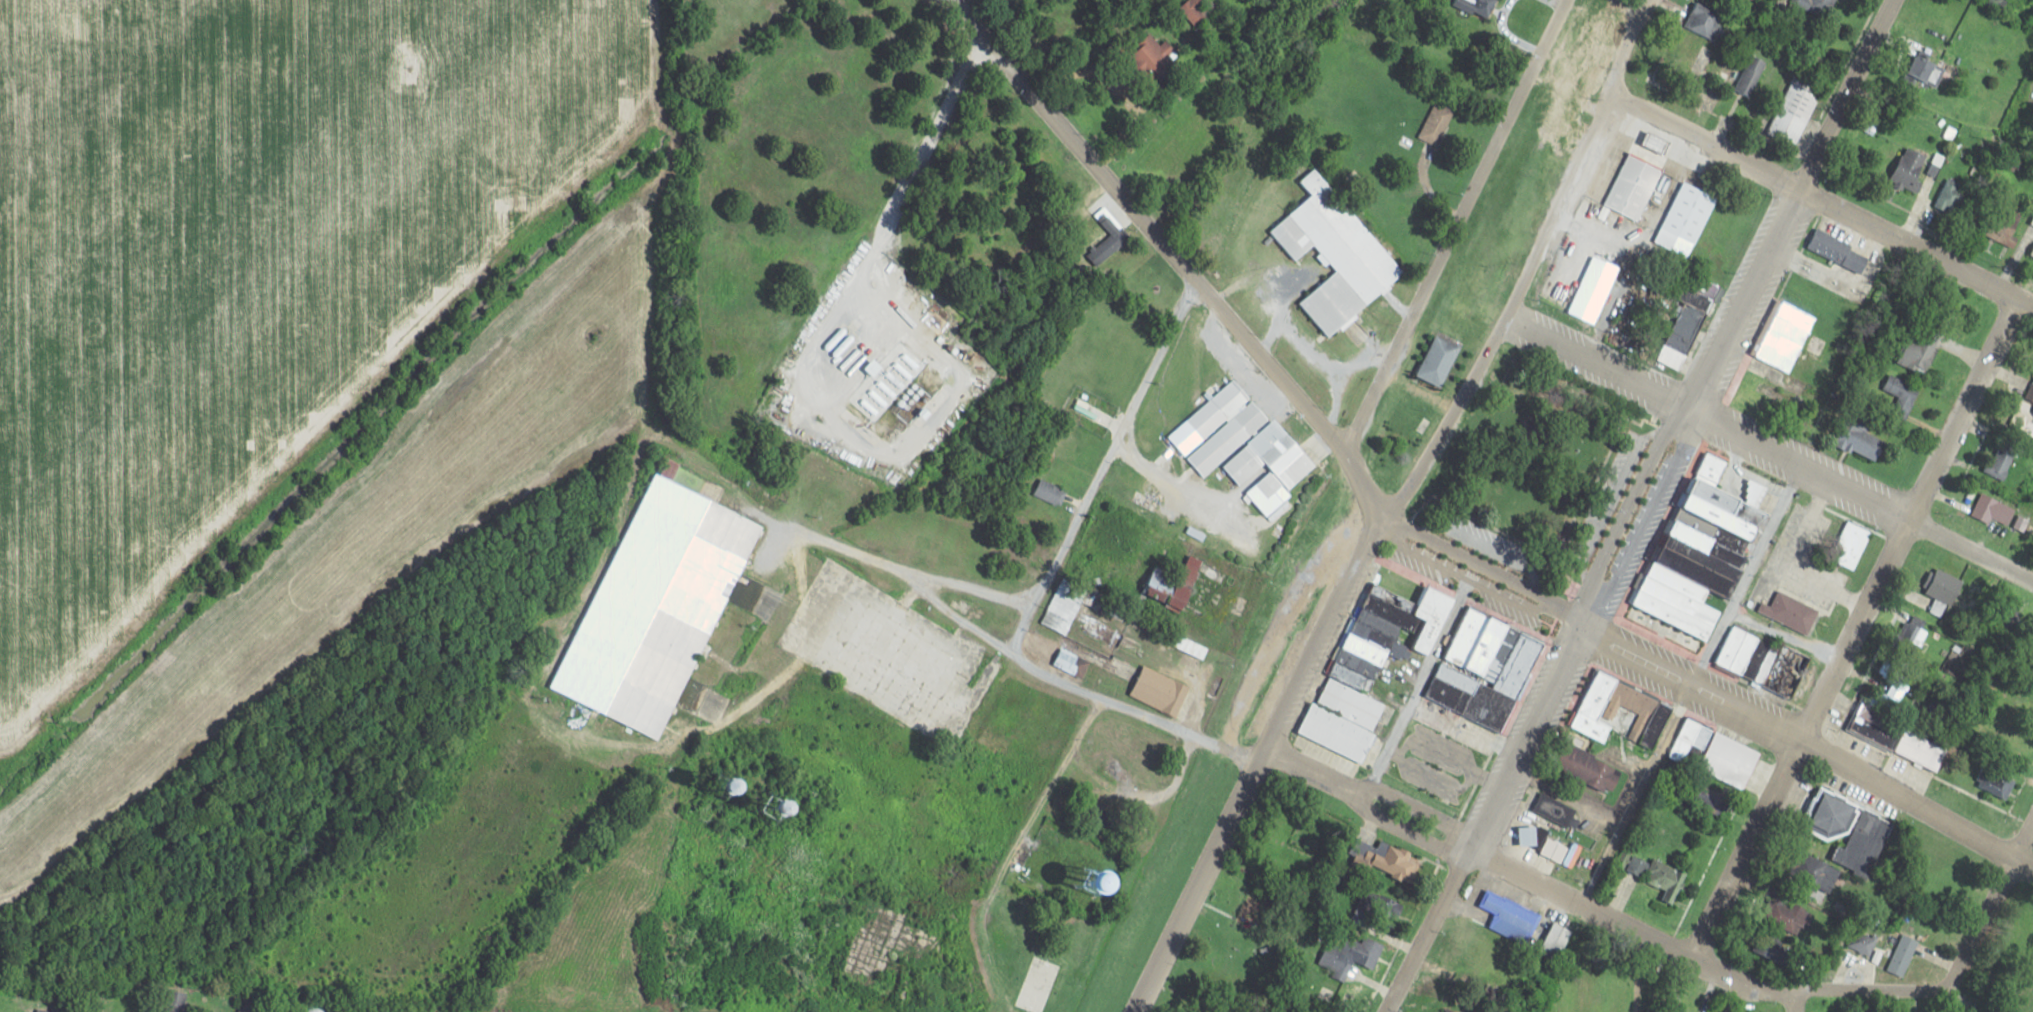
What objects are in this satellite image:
building: (1995, 2)
building: (1819, 6)
building: (1193, 9)
building: (1927, 70)
building: (1749, 74)
building: (1794, 109)
building: (1436, 122)
building: (1407, 141)
road: (1702, 142)
road: (920, 154)
building: (1910, 168)
building: (1933, 170)
building: (1633, 187)
building: (1951, 198)
building: (1688, 213)
road: (1453, 225)
building: (2002, 232)
building: (1107, 241)
road: (1913, 248)
building: (1839, 251)
building: (1335, 256)
road: (1530, 266)
road: (1733, 313)
building: (1684, 330)
building: (1785, 336)
road: (1243, 340)
road: (1296, 346)
building: (1919, 350)
road: (1345, 381)
building: (1897, 396)
building: (1749, 397)
building: (2027, 419)
building: (1861, 438)
road: (1112, 441)
building: (1241, 441)
road: (1769, 448)
building: (2002, 459)
building: (1049, 491)
building: (1992, 510)
road: (1911, 521)
road: (776, 533)
building: (1851, 545)
building: (1698, 566)
road: (912, 572)
building: (1175, 584)
building: (1943, 592)
building: (663, 599)
road: (958, 610)
building: (1790, 612)
building: (1059, 613)
building: (1910, 636)
building: (1761, 661)
building: (1071, 663)
building: (1373, 663)
building: (1484, 670)
building: (1888, 670)
building: (1160, 691)
road: (1105, 701)
building: (1619, 711)
building: (1897, 738)
road: (1807, 744)
building: (1731, 756)
road: (1259, 763)
building: (1590, 768)
building: (1995, 782)
building: (1559, 811)
building: (1831, 814)
road: (1481, 819)
building: (1528, 835)
road: (2024, 839)
road: (1747, 850)
road: (1479, 855)
building: (1638, 865)
building: (1114, 877)
building: (1509, 917)
building: (1555, 940)
building: (1868, 943)
building: (1353, 952)
building: (1902, 955)
building: (1248, 968)
road: (1888, 987)
road: (1793, 1000)

